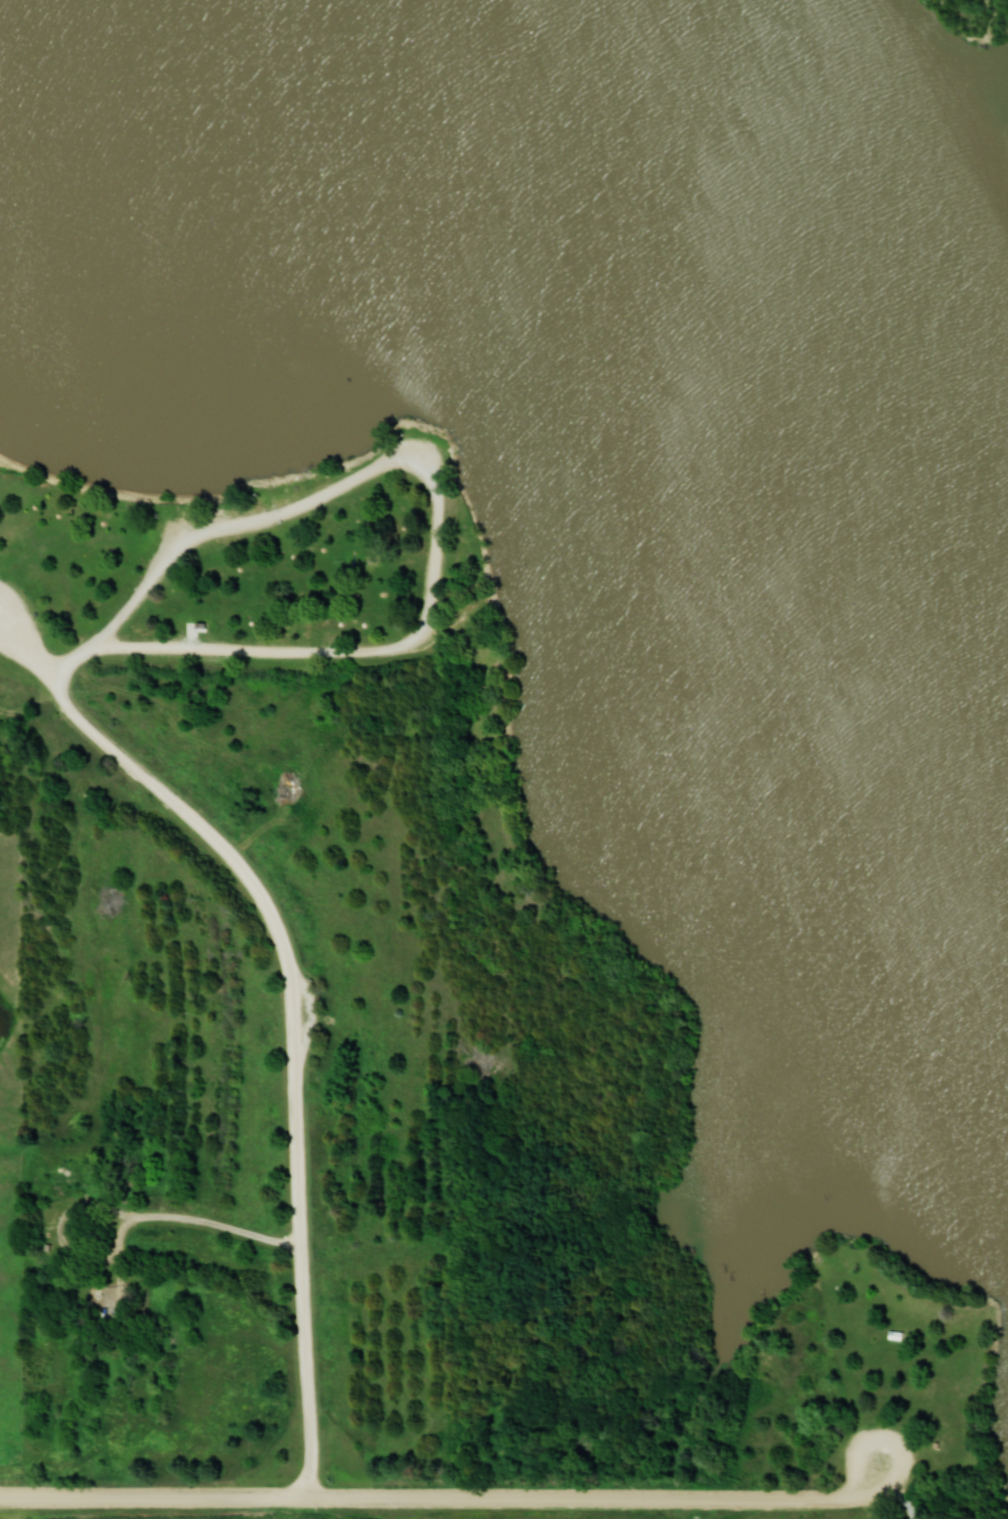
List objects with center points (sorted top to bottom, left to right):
parking lot: (416, 452)
road: (435, 534)
parking lot: (16, 627)
road: (78, 658)
park: (510, 743)
road: (293, 1003)
parking lot: (307, 1013)
road: (298, 1014)
parking lot: (877, 1455)
road: (880, 1478)
road: (451, 1496)
road: (16, 1498)

